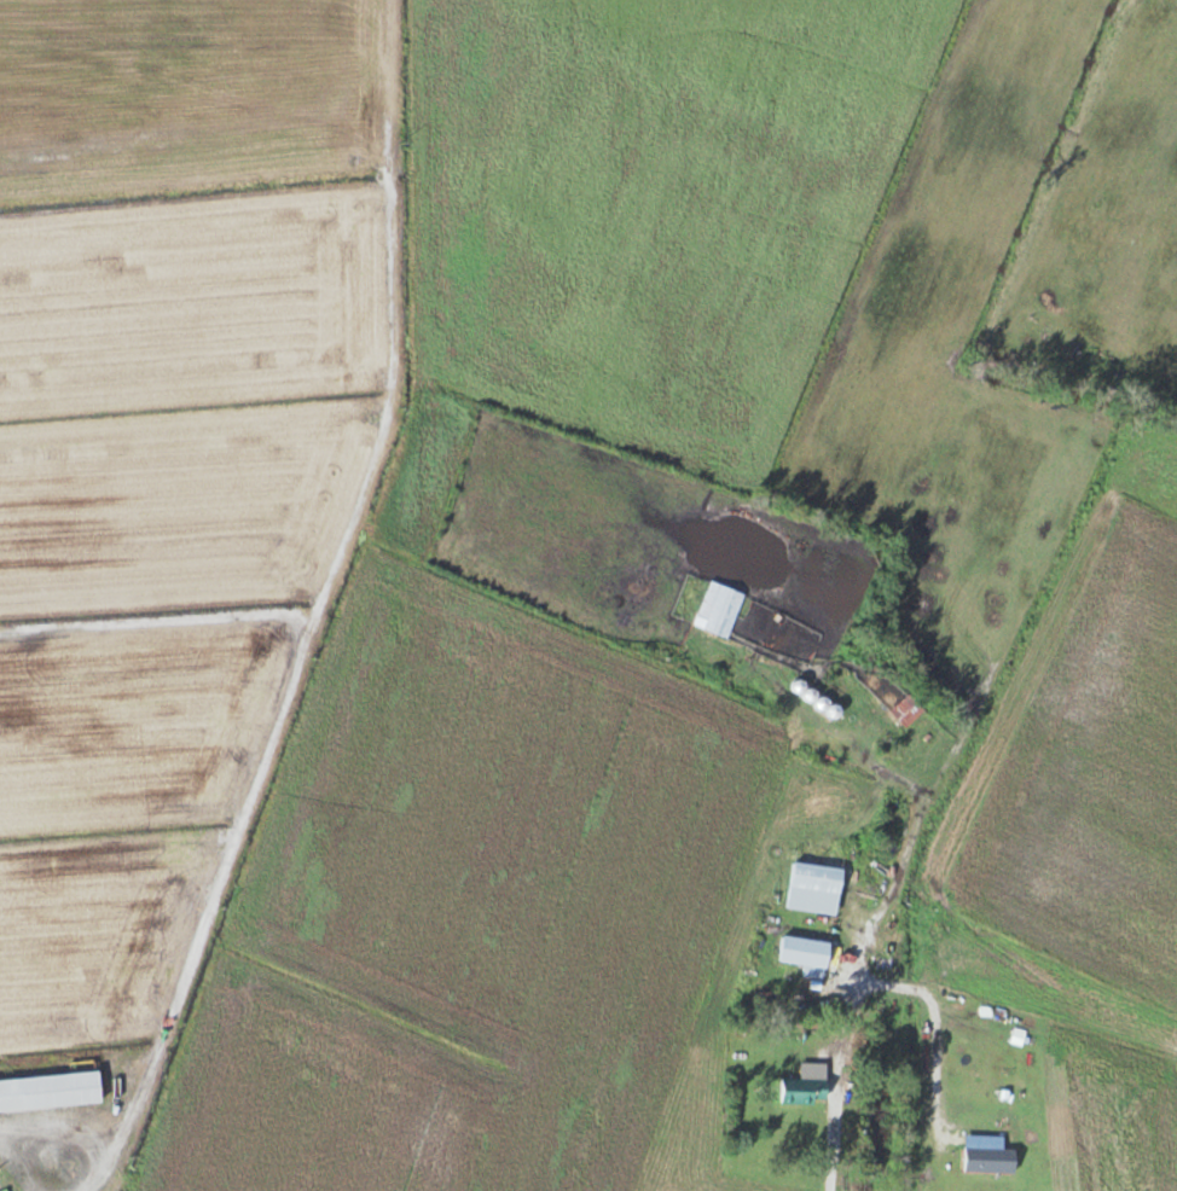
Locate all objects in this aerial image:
road: (195, 169)
building: (721, 610)
road: (318, 614)
building: (829, 707)
building: (909, 710)
building: (806, 952)
building: (807, 1085)
road: (835, 1123)

